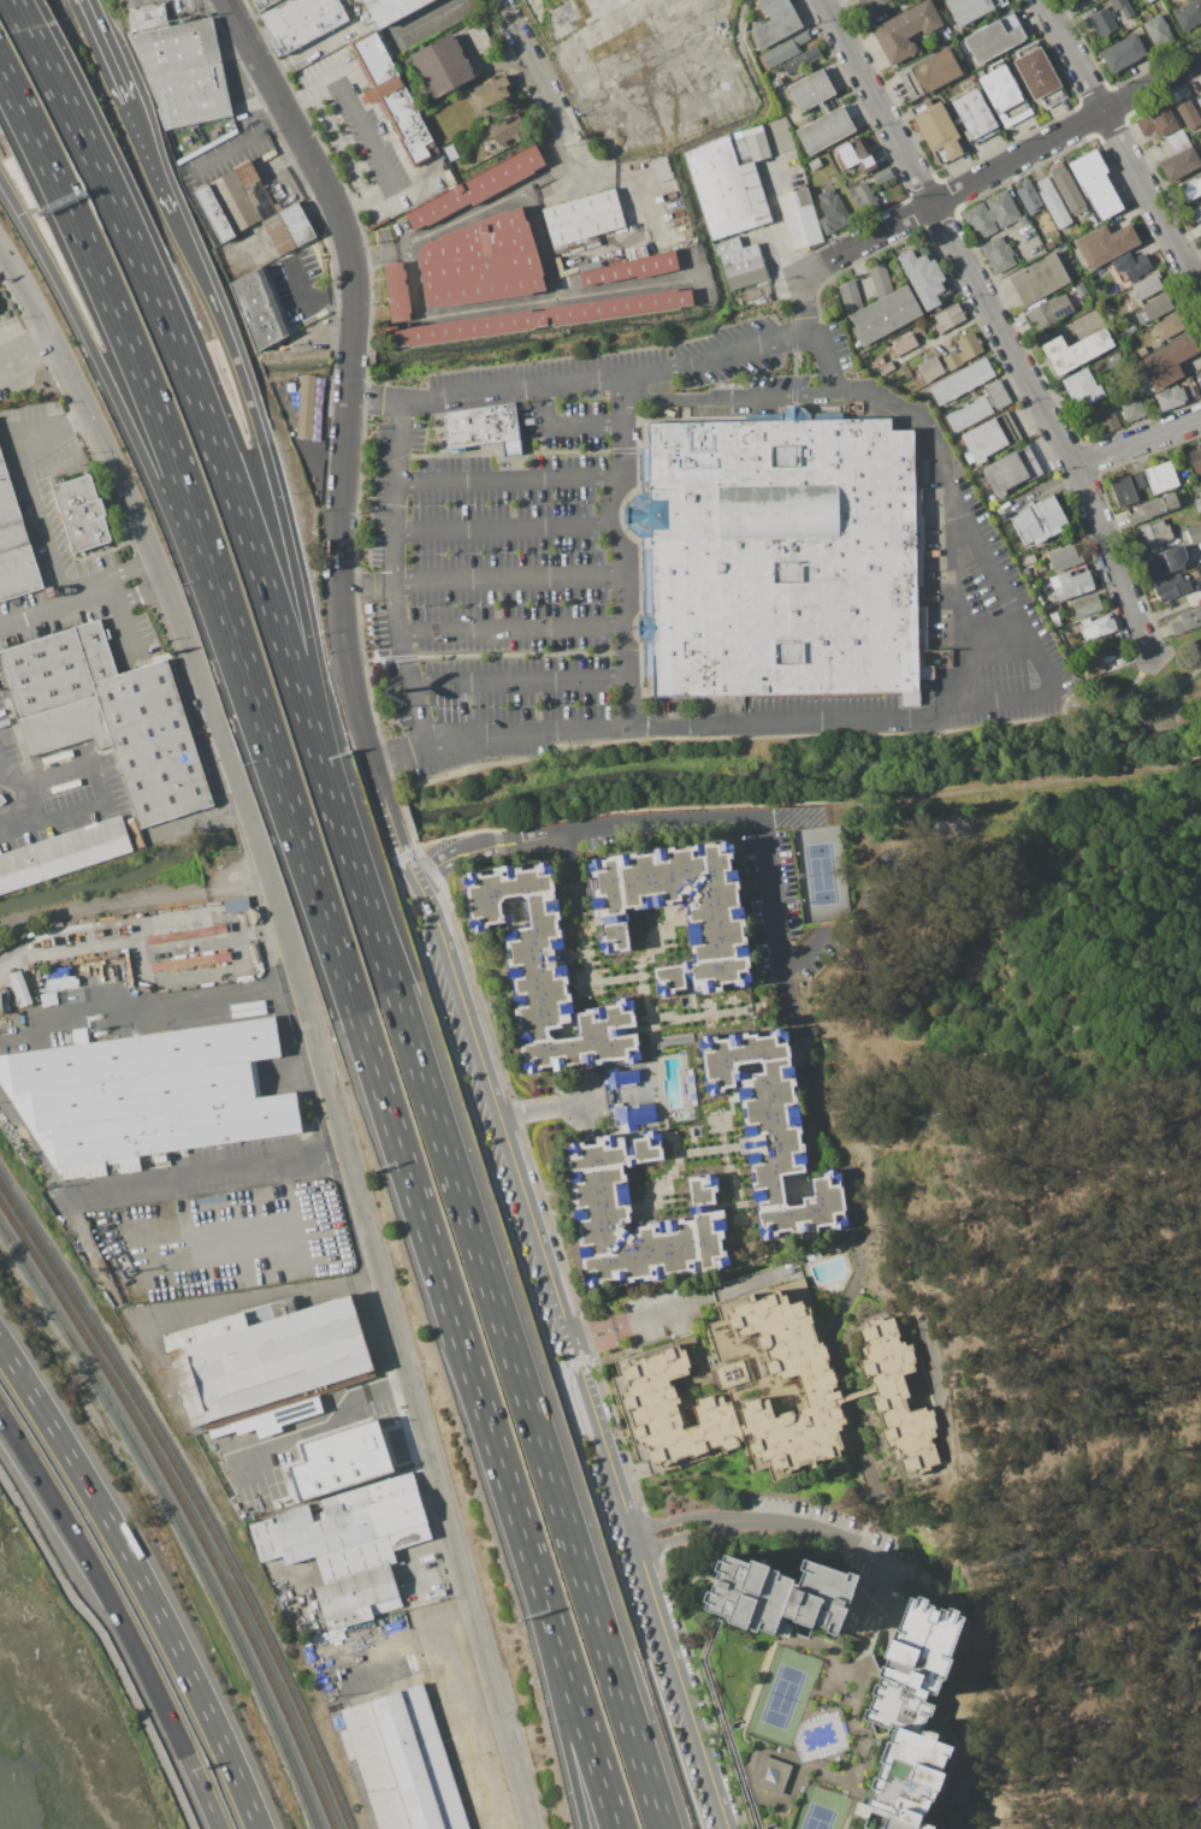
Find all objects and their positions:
building: (1148, 0)
building: (261, 4)
building: (906, 4)
gas station: (260, 5)
building: (872, 7)
building: (391, 10)
building: (971, 10)
building: (1125, 11)
gas station: (161, 12)
road: (18, 14)
building: (1188, 14)
building: (148, 17)
building: (301, 20)
building: (775, 22)
building: (1104, 22)
road: (514, 28)
building: (905, 30)
building: (1158, 31)
building: (479, 37)
building: (993, 37)
building: (177, 47)
building: (783, 49)
road: (99, 52)
building: (1123, 53)
building: (801, 59)
building: (440, 65)
building: (929, 72)
building: (1036, 72)
building: (777, 83)
building: (491, 93)
building: (191, 95)
building: (1004, 95)
road: (297, 96)
road: (551, 96)
building: (392, 97)
building: (1199, 100)
building: (803, 108)
building: (1188, 112)
building: (975, 117)
building: (1156, 122)
building: (508, 129)
road: (365, 131)
building: (937, 131)
parking lot: (367, 137)
road: (239, 142)
road: (344, 142)
building: (749, 144)
road: (1120, 147)
building: (854, 156)
building: (1179, 156)
road: (149, 164)
building: (815, 164)
road: (999, 166)
road: (314, 167)
building: (662, 170)
building: (882, 174)
building: (1096, 183)
building: (477, 188)
building: (726, 189)
building: (1191, 189)
building: (254, 190)
building: (1067, 190)
building: (1028, 196)
building: (862, 197)
building: (233, 202)
building: (1052, 202)
road: (354, 207)
building: (832, 212)
building: (213, 213)
building: (1196, 213)
building: (992, 214)
road: (466, 215)
building: (584, 218)
building: (798, 218)
building: (1023, 220)
building: (295, 224)
road: (945, 232)
building: (277, 233)
road: (400, 243)
building: (1106, 243)
road: (540, 244)
road: (372, 254)
building: (999, 254)
building: (480, 262)
building: (740, 262)
building: (1132, 266)
building: (631, 268)
building: (1102, 271)
building: (923, 277)
building: (880, 279)
building: (1040, 279)
parking lot: (297, 284)
road: (631, 286)
building: (1146, 286)
building: (1079, 289)
building: (397, 292)
building: (1071, 295)
building: (850, 296)
road: (312, 303)
road: (804, 304)
building: (1154, 308)
building: (259, 309)
road: (450, 312)
building: (1049, 312)
building: (885, 314)
building: (948, 316)
building: (542, 318)
building: (1169, 326)
building: (1131, 330)
road: (941, 337)
building: (905, 343)
road: (792, 350)
building: (1075, 350)
building: (963, 351)
road: (29, 355)
road: (135, 361)
building: (1167, 361)
building: (876, 362)
road: (349, 365)
building: (1116, 365)
building: (886, 367)
building: (930, 368)
building: (962, 380)
road: (579, 381)
building: (1083, 389)
road: (622, 390)
building: (996, 395)
building: (1171, 397)
road: (728, 398)
road: (794, 398)
road: (197, 403)
building: (306, 407)
building: (1132, 407)
building: (969, 414)
road: (123, 420)
building: (1108, 420)
road: (562, 425)
road: (438, 426)
building: (481, 427)
building: (989, 437)
road: (539, 438)
road: (343, 442)
road: (1136, 442)
road: (496, 450)
building: (1195, 458)
building: (1011, 472)
road: (25, 475)
building: (1161, 478)
road: (509, 480)
road: (627, 484)
building: (1126, 489)
road: (277, 502)
building: (1197, 504)
building: (1160, 505)
building: (82, 513)
building: (1039, 520)
building: (1178, 521)
road: (501, 528)
building: (1155, 533)
building: (1195, 534)
road: (149, 543)
building: (14, 545)
road: (628, 545)
parking lot: (502, 546)
road: (638, 557)
building: (781, 557)
building: (1064, 558)
road: (625, 560)
building: (1027, 560)
building: (1169, 560)
road: (1112, 562)
road: (131, 567)
road: (392, 575)
road: (508, 578)
building: (1071, 585)
road: (365, 586)
building: (1172, 586)
road: (141, 594)
road: (57, 605)
building: (1087, 605)
building: (1052, 608)
road: (120, 614)
building: (1054, 618)
building: (1188, 620)
road: (628, 627)
building: (1098, 627)
road: (509, 628)
road: (995, 641)
road: (1034, 650)
road: (492, 653)
building: (1096, 665)
road: (1136, 677)
road: (517, 680)
road: (350, 683)
road: (1128, 697)
park: (1155, 697)
building: (673, 706)
building: (107, 716)
road: (892, 718)
road: (641, 733)
road: (726, 738)
road: (76, 764)
road: (13, 793)
park: (1182, 799)
road: (799, 801)
park: (954, 822)
road: (57, 823)
road: (613, 825)
building: (63, 853)
park: (821, 872)
road: (773, 899)
road: (134, 902)
building: (235, 904)
road: (428, 907)
road: (369, 917)
building: (715, 921)
building: (213, 929)
road: (804, 951)
building: (545, 976)
building: (20, 988)
building: (0, 1002)
road: (354, 1005)
road: (152, 1006)
building: (621, 1078)
building: (147, 1095)
road: (539, 1112)
building: (633, 1118)
building: (770, 1131)
road: (31, 1152)
road: (1143, 1162)
road: (190, 1178)
building: (600, 1209)
park: (1070, 1229)
parking lot: (221, 1241)
road: (859, 1263)
road: (274, 1294)
road: (637, 1319)
road: (542, 1338)
road: (403, 1343)
road: (6, 1355)
building: (265, 1356)
building: (732, 1374)
building: (818, 1383)
road: (588, 1395)
building: (898, 1396)
building: (672, 1408)
building: (270, 1419)
road: (330, 1420)
road: (536, 1434)
building: (341, 1457)
road: (498, 1457)
railway: (191, 1497)
railway: (183, 1508)
railway: (174, 1517)
road: (679, 1519)
road: (684, 1538)
road: (856, 1544)
building: (350, 1545)
road: (146, 1591)
road: (460, 1611)
road: (117, 1617)
building: (292, 1620)
road: (387, 1638)
road: (107, 1644)
building: (830, 1694)
park: (783, 1695)
road: (575, 1698)
road: (556, 1699)
building: (403, 1762)
park: (823, 1810)

